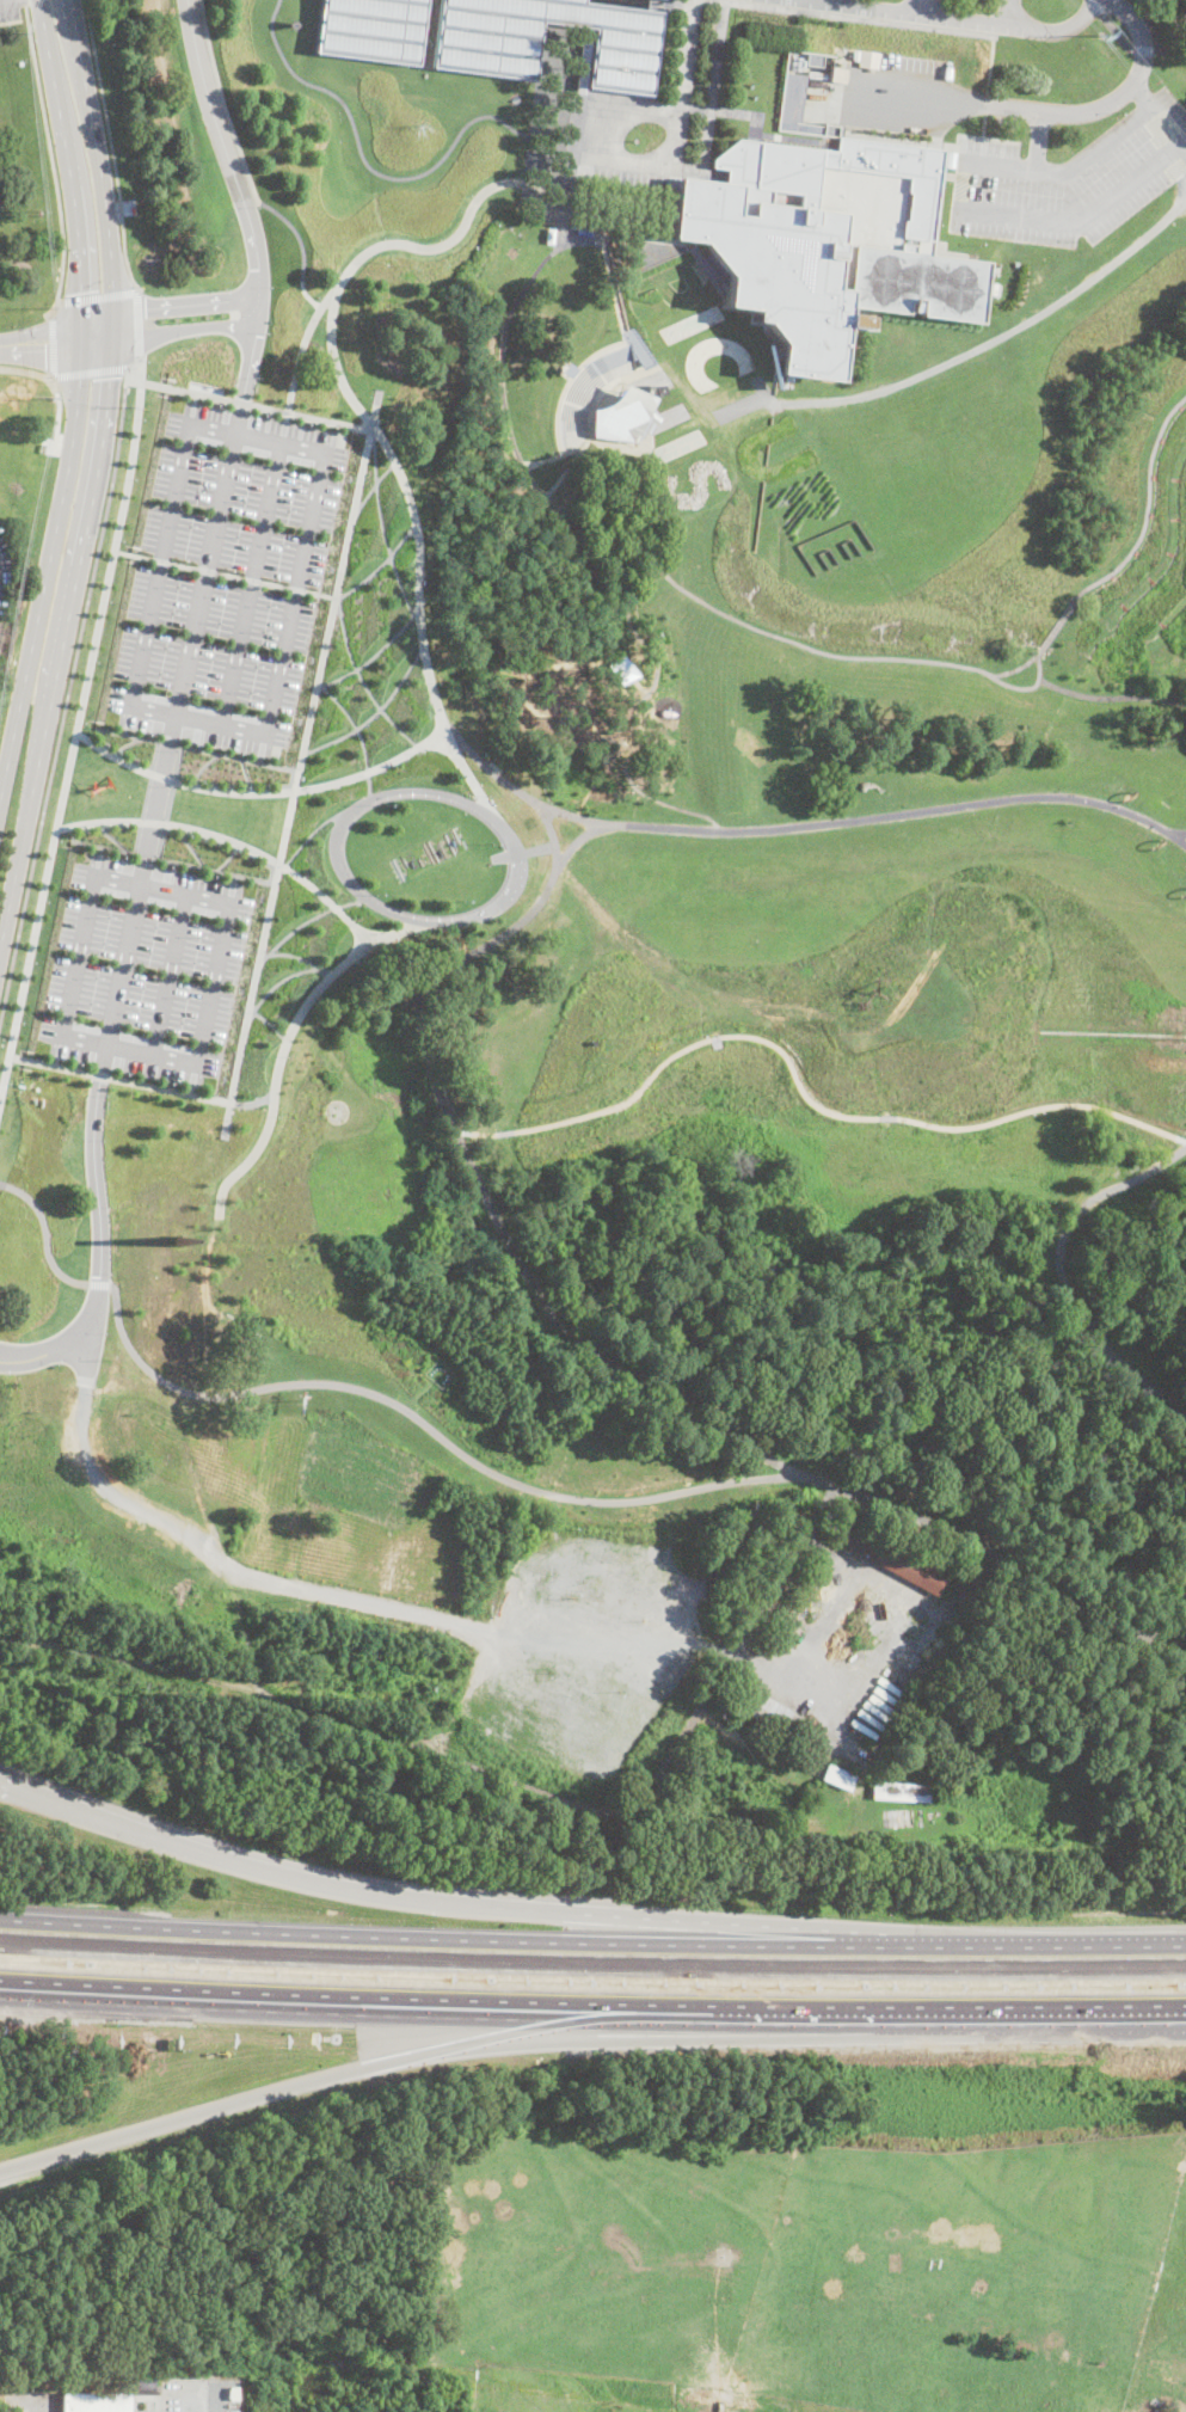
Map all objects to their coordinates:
road: (24, 1)
road: (825, 1)
parking lot: (922, 4)
road: (786, 5)
road: (922, 7)
parking lot: (10, 10)
parking lot: (1009, 10)
road: (1007, 13)
park: (1173, 17)
road: (853, 18)
road: (955, 19)
power tower: (1112, 27)
building: (371, 29)
road: (1127, 44)
building: (486, 47)
road: (686, 55)
building: (815, 59)
road: (989, 65)
building: (838, 74)
road: (712, 90)
road: (223, 103)
road: (985, 104)
building: (799, 106)
road: (1034, 110)
road: (744, 113)
road: (983, 125)
road: (982, 136)
road: (1037, 137)
road: (110, 146)
road: (225, 148)
road: (588, 154)
building: (951, 158)
road: (570, 160)
road: (51, 161)
road: (1173, 164)
road: (99, 165)
parking lot: (627, 170)
road: (381, 174)
road: (684, 176)
parking lot: (1069, 180)
road: (1185, 186)
road: (479, 196)
road: (985, 209)
road: (295, 233)
building: (828, 241)
traffic signals: (81, 290)
road: (307, 295)
road: (97, 296)
road: (179, 303)
traffic signals: (145, 307)
road: (139, 323)
road: (184, 329)
road: (1007, 332)
road: (51, 342)
road: (56, 343)
traffic signals: (45, 345)
road: (252, 349)
road: (139, 367)
road: (336, 367)
road: (24, 369)
building: (569, 369)
road: (90, 370)
road: (134, 372)
road: (49, 376)
traffic signals: (109, 378)
road: (189, 391)
building: (659, 391)
road: (75, 400)
road: (559, 403)
road: (57, 413)
building: (622, 418)
road: (325, 452)
road: (567, 468)
road: (371, 487)
road: (549, 503)
road: (411, 507)
road: (382, 527)
road: (209, 557)
road: (379, 565)
road: (222, 572)
parking lot: (227, 577)
road: (251, 582)
road: (72, 593)
road: (370, 656)
road: (971, 667)
building: (622, 669)
road: (361, 680)
road: (1031, 687)
road: (67, 693)
road: (1111, 698)
road: (373, 713)
road: (649, 717)
road: (352, 722)
road: (74, 738)
street lamp: (179, 750)
road: (300, 761)
road: (491, 769)
street lamp: (172, 786)
road: (263, 791)
street lamp: (165, 818)
road: (858, 820)
street lamp: (99, 829)
road: (1178, 834)
street lamp: (188, 835)
road: (231, 839)
road: (1178, 840)
street lamp: (61, 841)
road: (574, 841)
street lamp: (234, 848)
street lamp: (156, 855)
street lamp: (123, 857)
street lamp: (268, 861)
street lamp: (171, 866)
street lamp: (215, 876)
road: (10, 897)
street lamp: (48, 902)
street lamp: (257, 906)
street lamp: (110, 917)
street lamp: (158, 928)
road: (294, 929)
street lamp: (202, 937)
street lamp: (105, 944)
street lamp: (248, 951)
street lamp: (152, 953)
road: (300, 956)
street lamp: (35, 963)
street lamp: (196, 963)
parking lot: (93, 971)
road: (168, 977)
street lamp: (98, 978)
road: (277, 983)
street lamp: (145, 988)
street lamp: (239, 996)
street lamp: (189, 998)
street lamp: (92, 1005)
street lamp: (140, 1014)
road: (270, 1023)
street lamp: (21, 1024)
street lamp: (183, 1024)
street lamp: (229, 1042)
road: (106, 1043)
street lamp: (79, 1066)
road: (197, 1069)
road: (276, 1070)
street lamp: (127, 1076)
road: (139, 1084)
street lamp: (10, 1085)
street lamp: (170, 1085)
street lamp: (220, 1086)
park: (625, 1086)
road: (803, 1087)
road: (44, 1234)
building: (182, 1239)
road: (1061, 1272)
road: (99, 1283)
road: (47, 1351)
road: (597, 1354)
road: (417, 1419)
road: (838, 1564)
building: (904, 1566)
road: (613, 1625)
road: (1163, 1634)
road: (755, 1663)
building: (733, 1700)
building: (773, 1711)
building: (776, 1755)
road: (498, 1774)
building: (838, 1778)
building: (901, 1792)
road: (1025, 1841)
road: (517, 1908)
road: (526, 1943)
road: (1119, 1948)
road: (375, 2000)
road: (969, 2024)
road: (369, 2069)
crop: (824, 2252)
road: (205, 2398)
building: (702, 2399)
building: (96, 2401)
road: (30, 2404)
building: (742, 2404)

